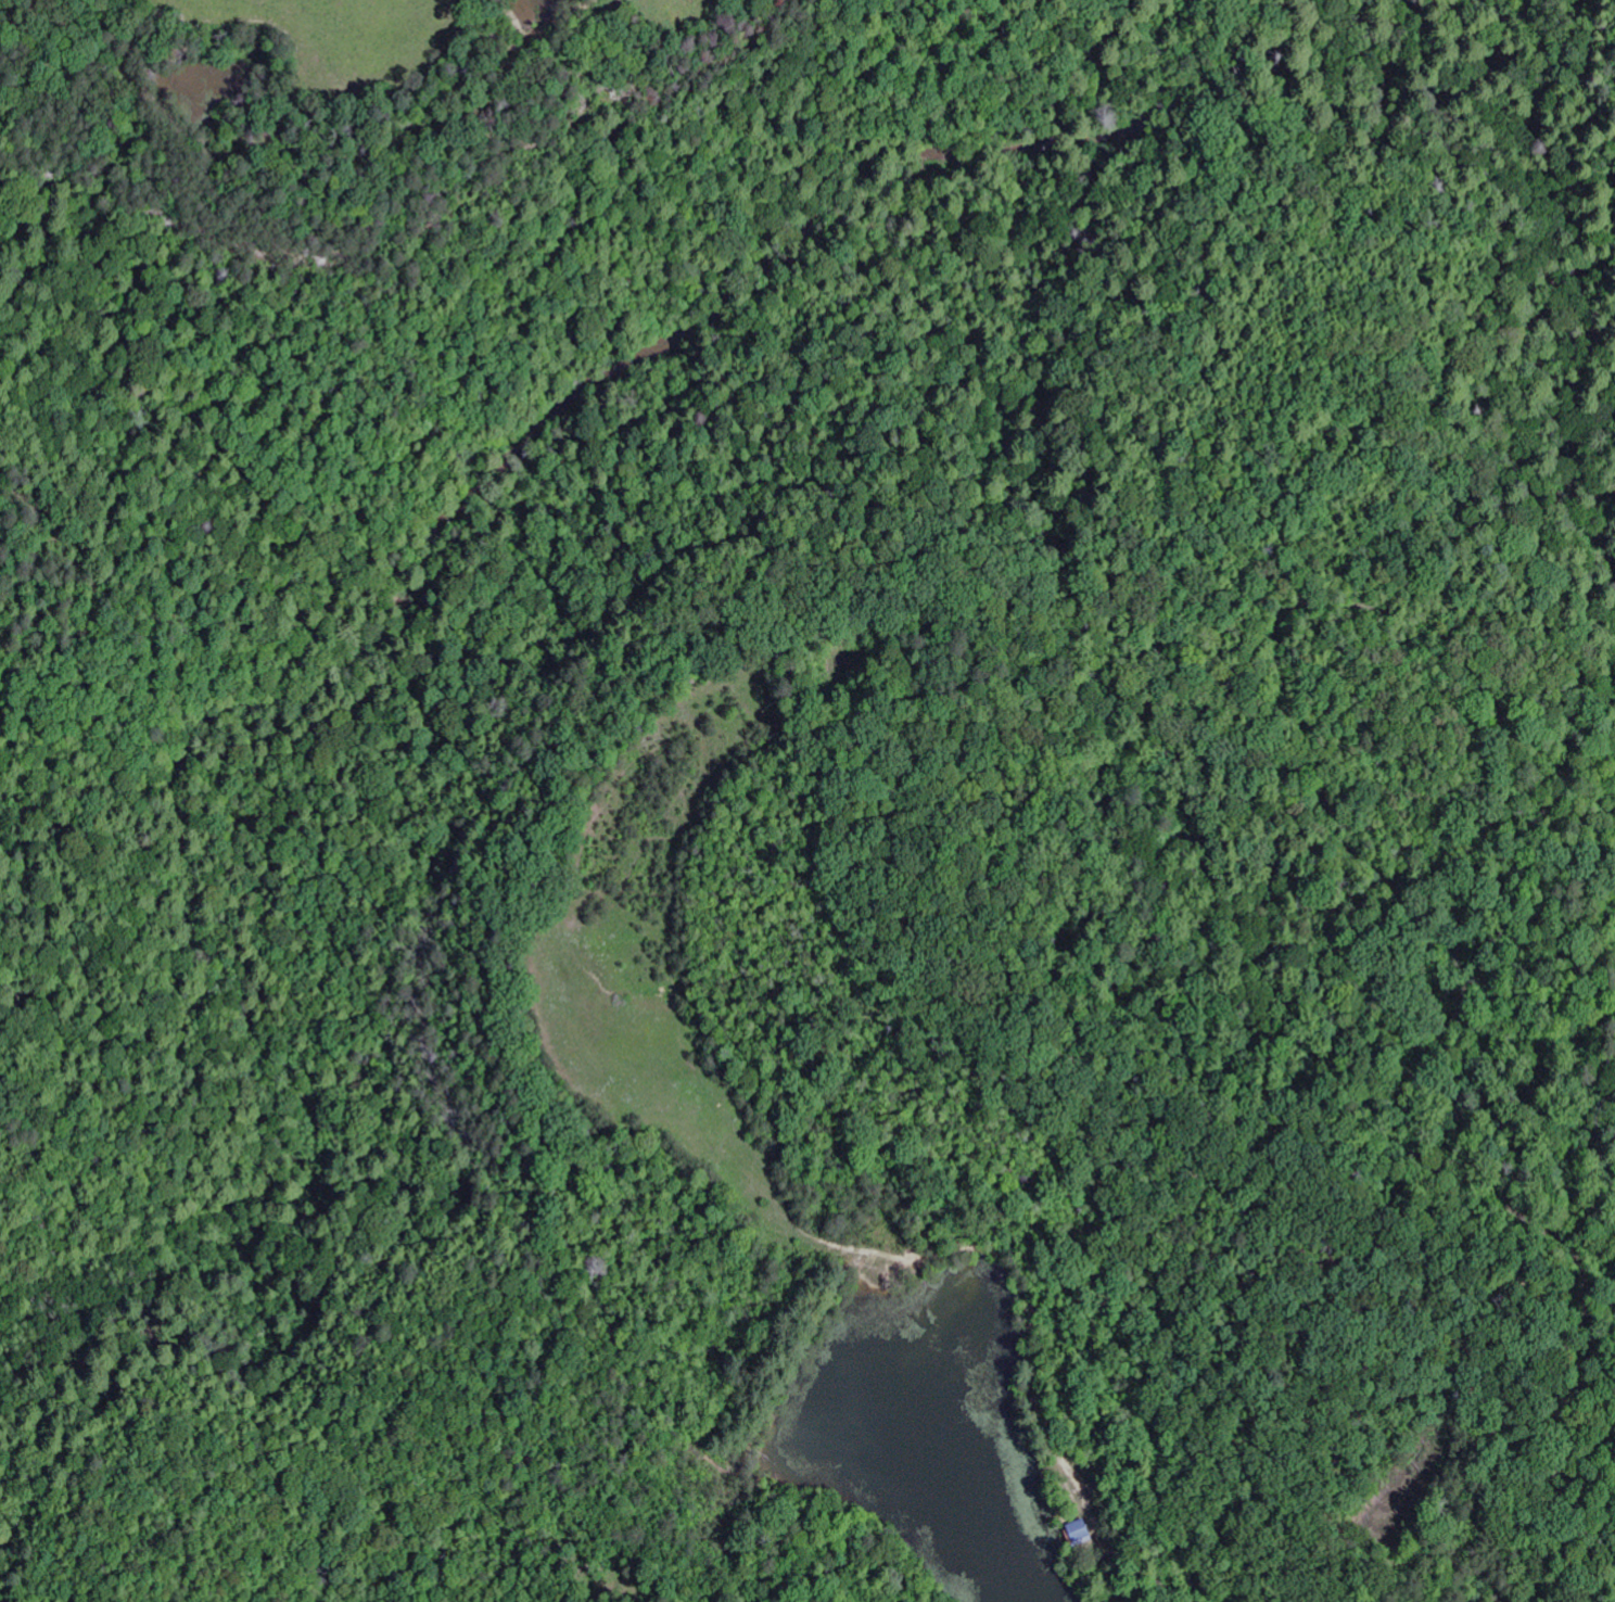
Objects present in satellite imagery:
river: (552, 455)

